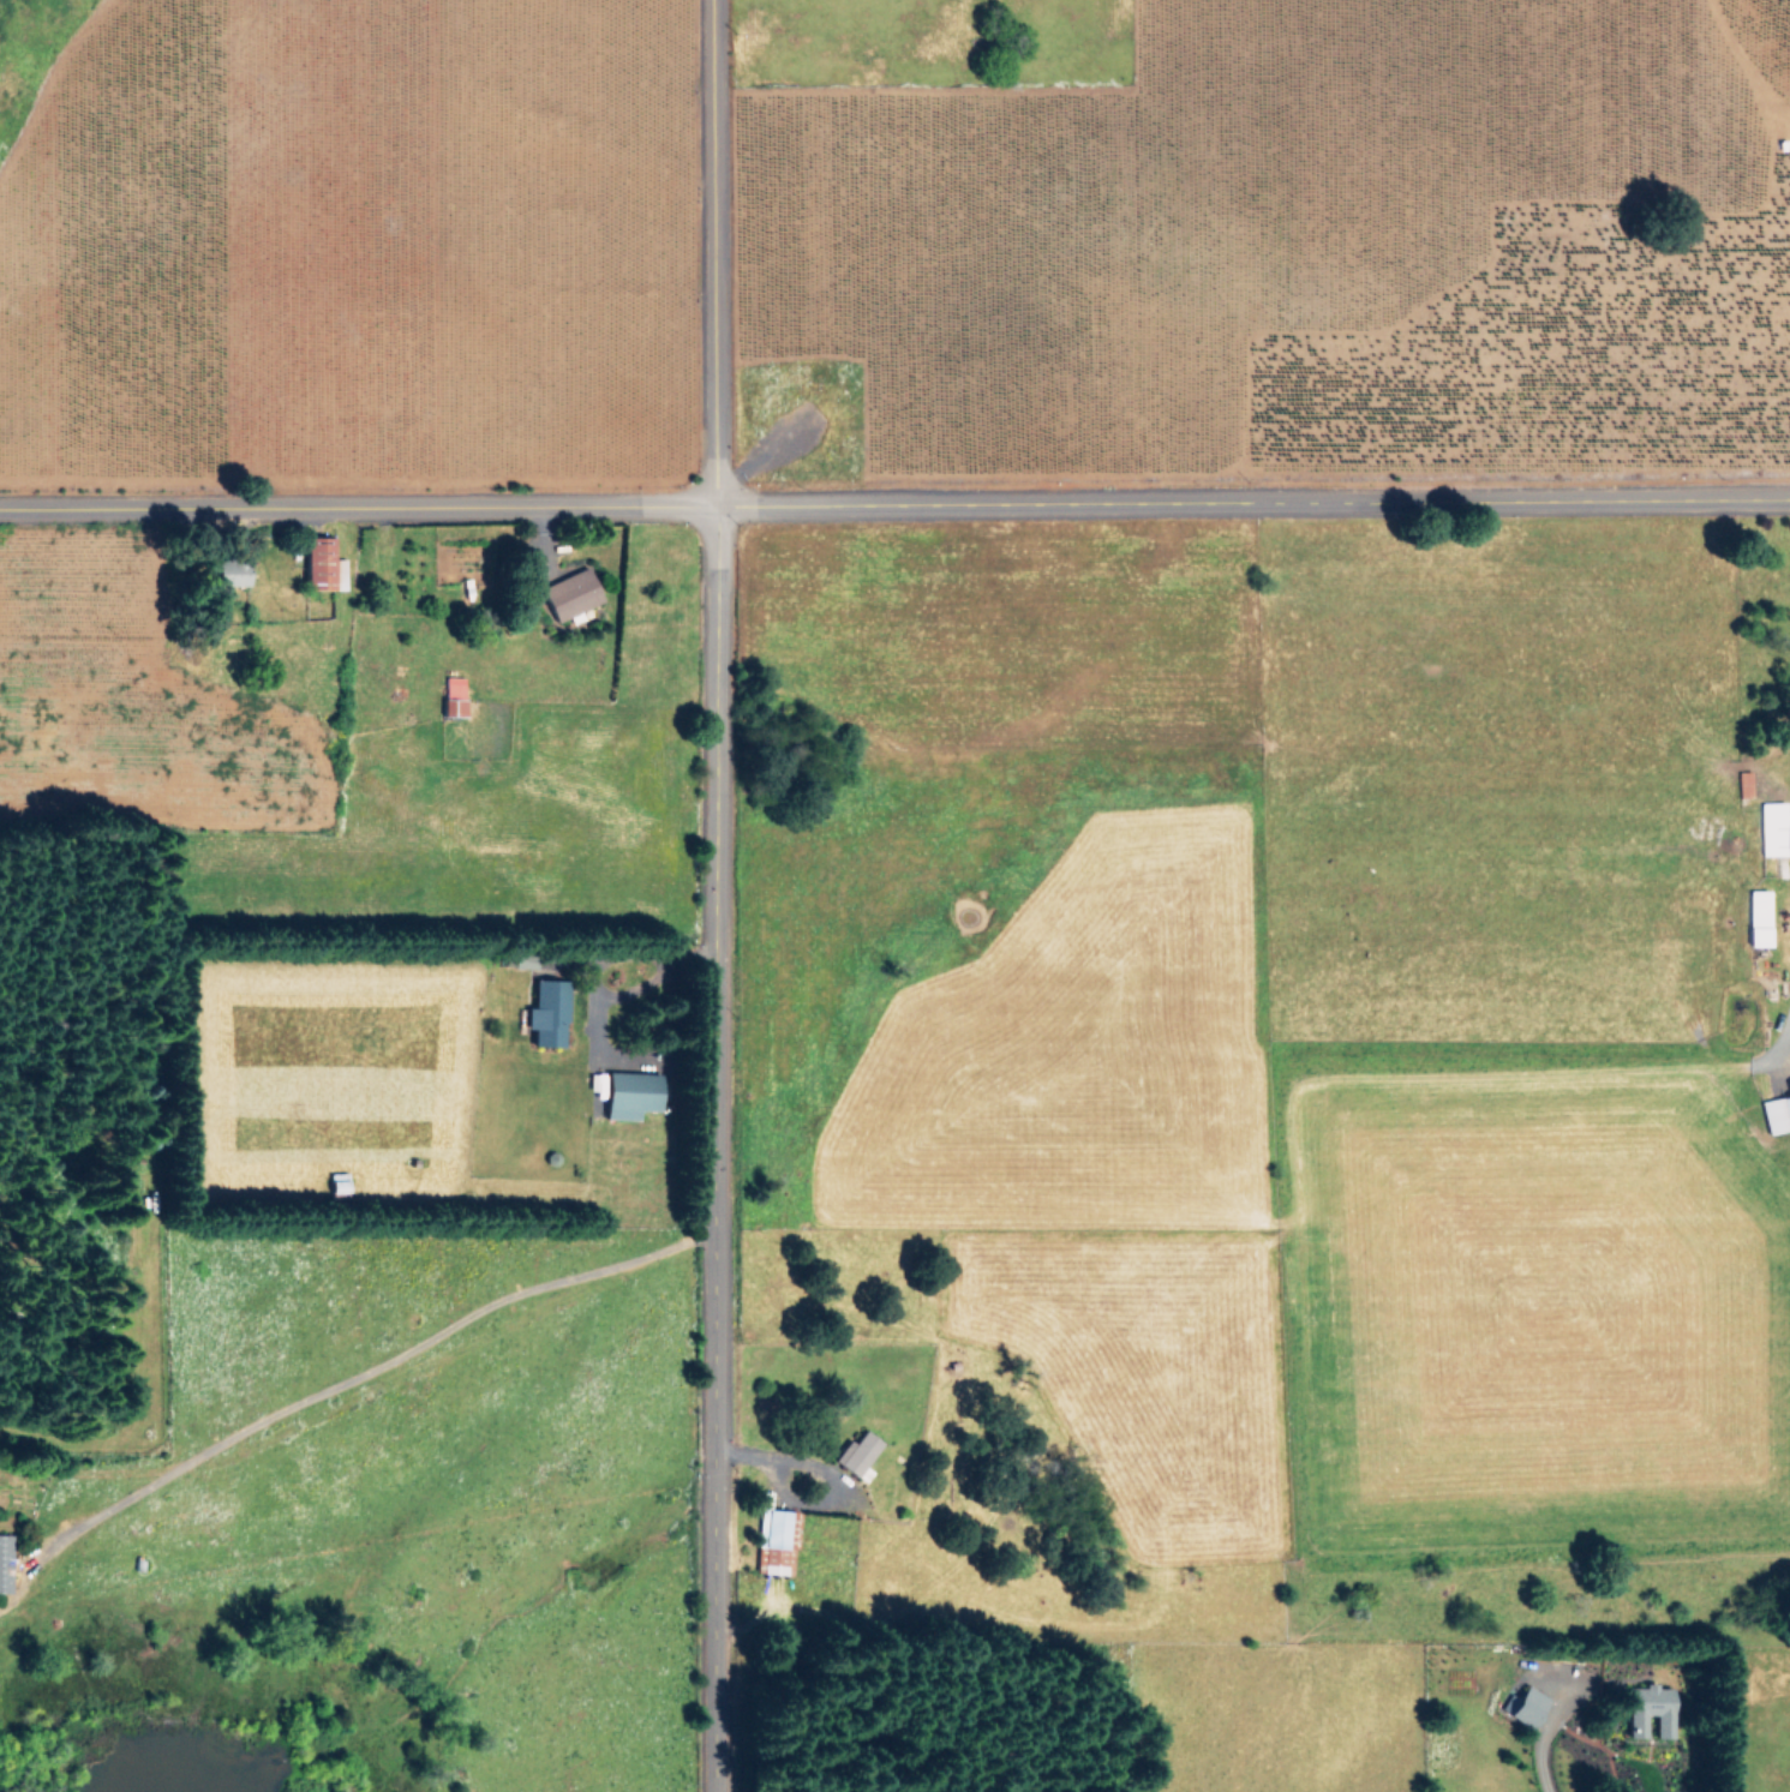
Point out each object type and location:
road: (720, 254)
road: (1256, 507)
road: (360, 510)
building: (315, 561)
building: (568, 592)
building: (450, 694)
building: (1742, 783)
building: (1773, 827)
building: (1754, 916)
building: (544, 1011)
building: (627, 1092)
building: (1776, 1111)
road: (714, 1151)
road: (395, 1323)
building: (855, 1452)
road: (90, 1488)
building: (772, 1540)
building: (2, 1559)
building: (1521, 1704)
building: (1648, 1712)

